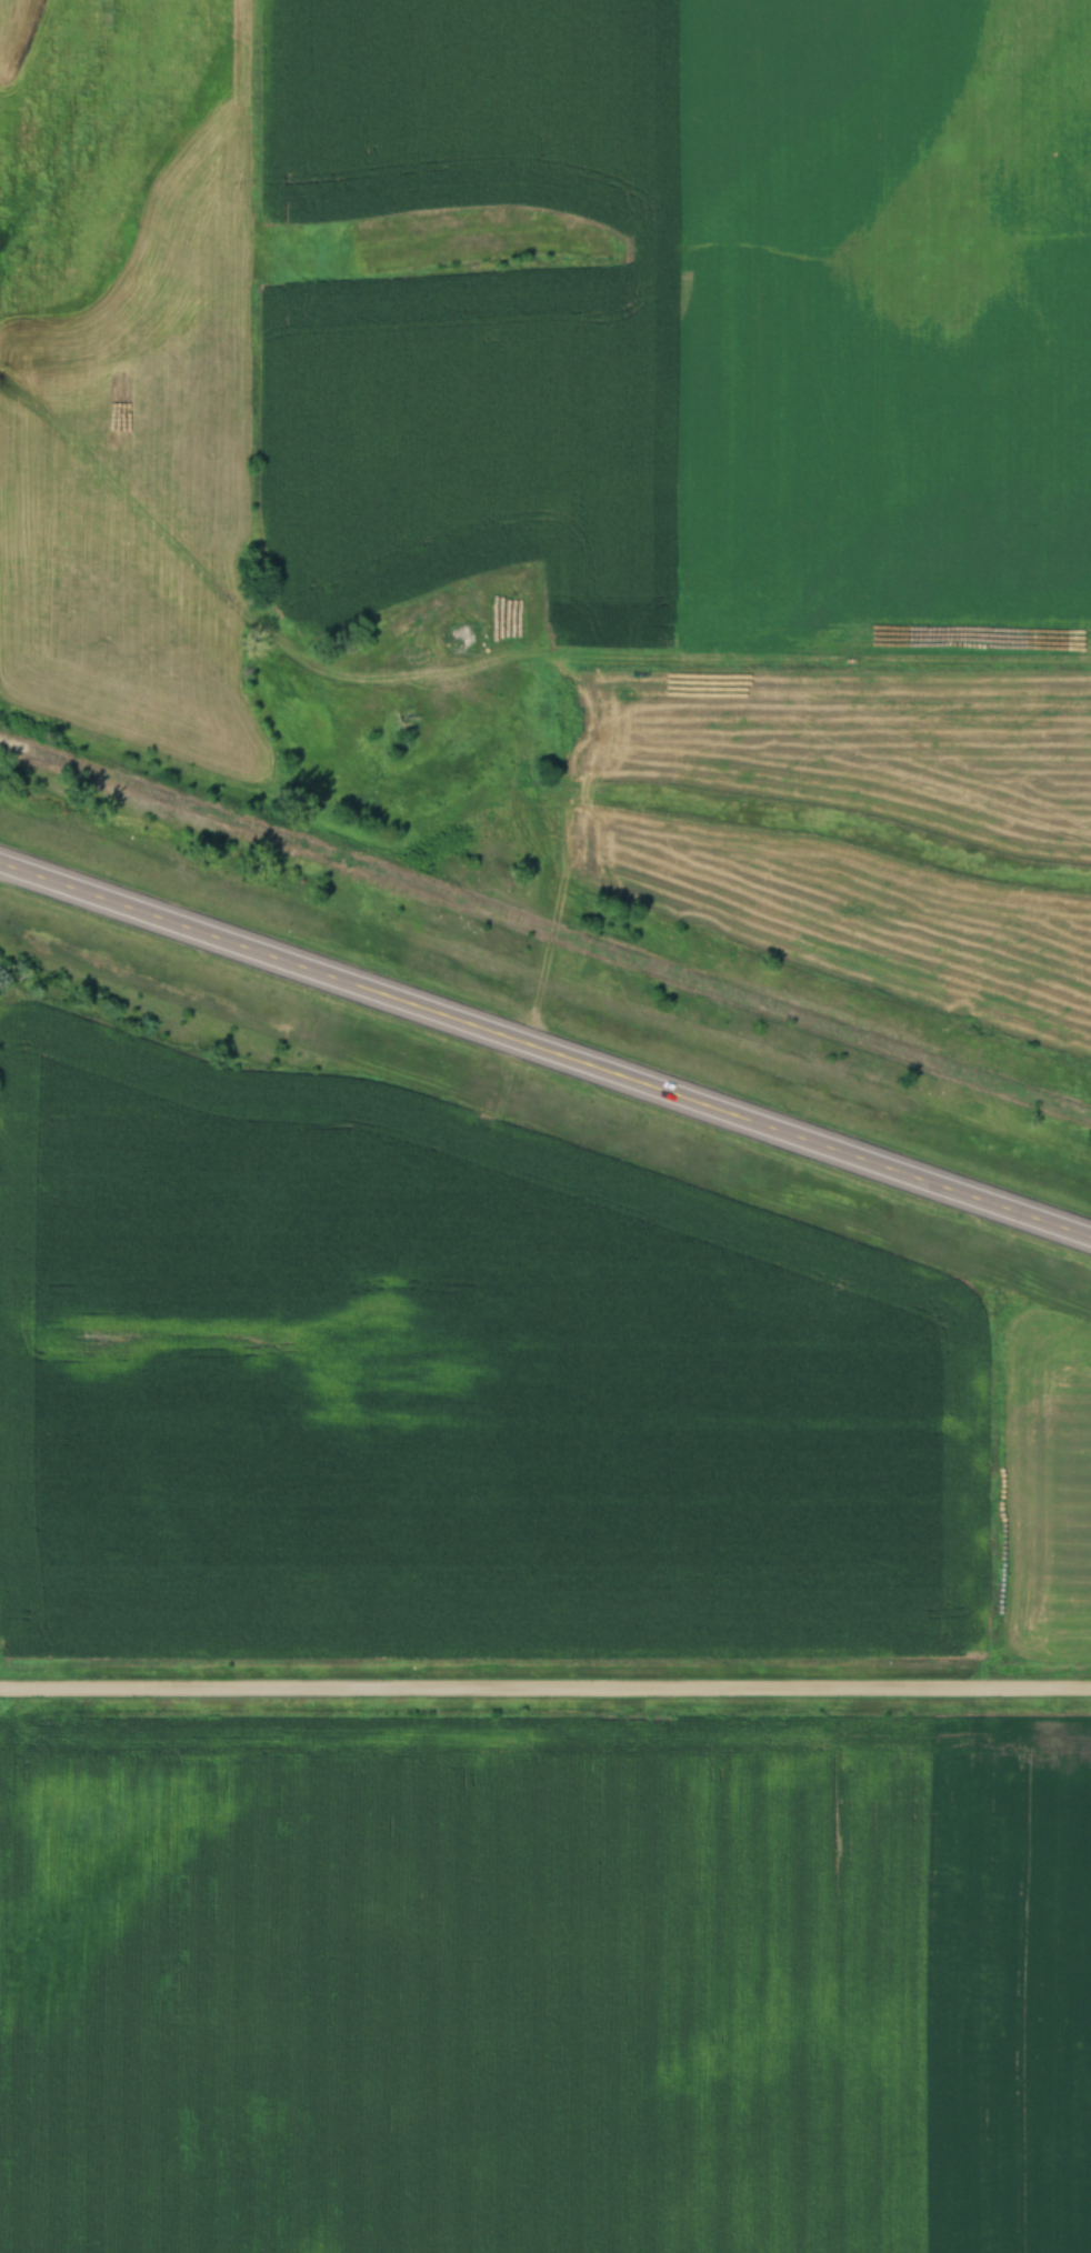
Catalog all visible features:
road: (561, 852)
railway: (544, 927)
road: (544, 1050)
road: (545, 1688)

